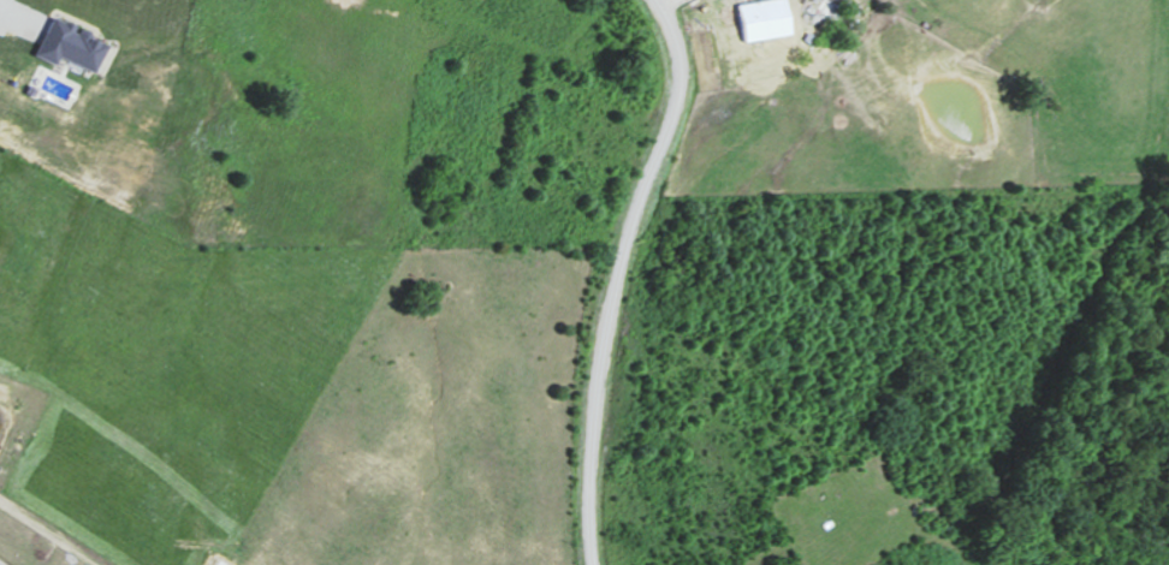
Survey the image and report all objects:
building: (756, 19)
building: (70, 47)
road: (1, 564)

